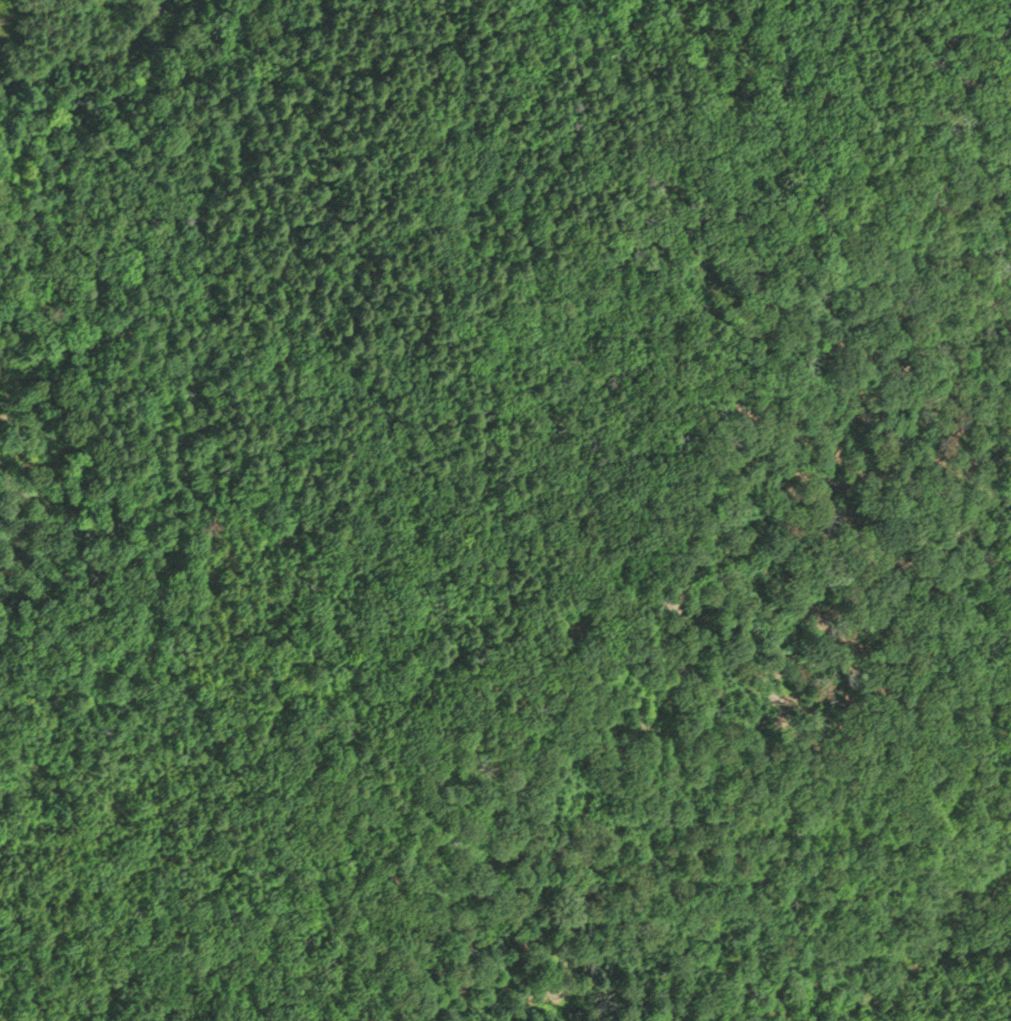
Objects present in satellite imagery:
road: (88, 48)

